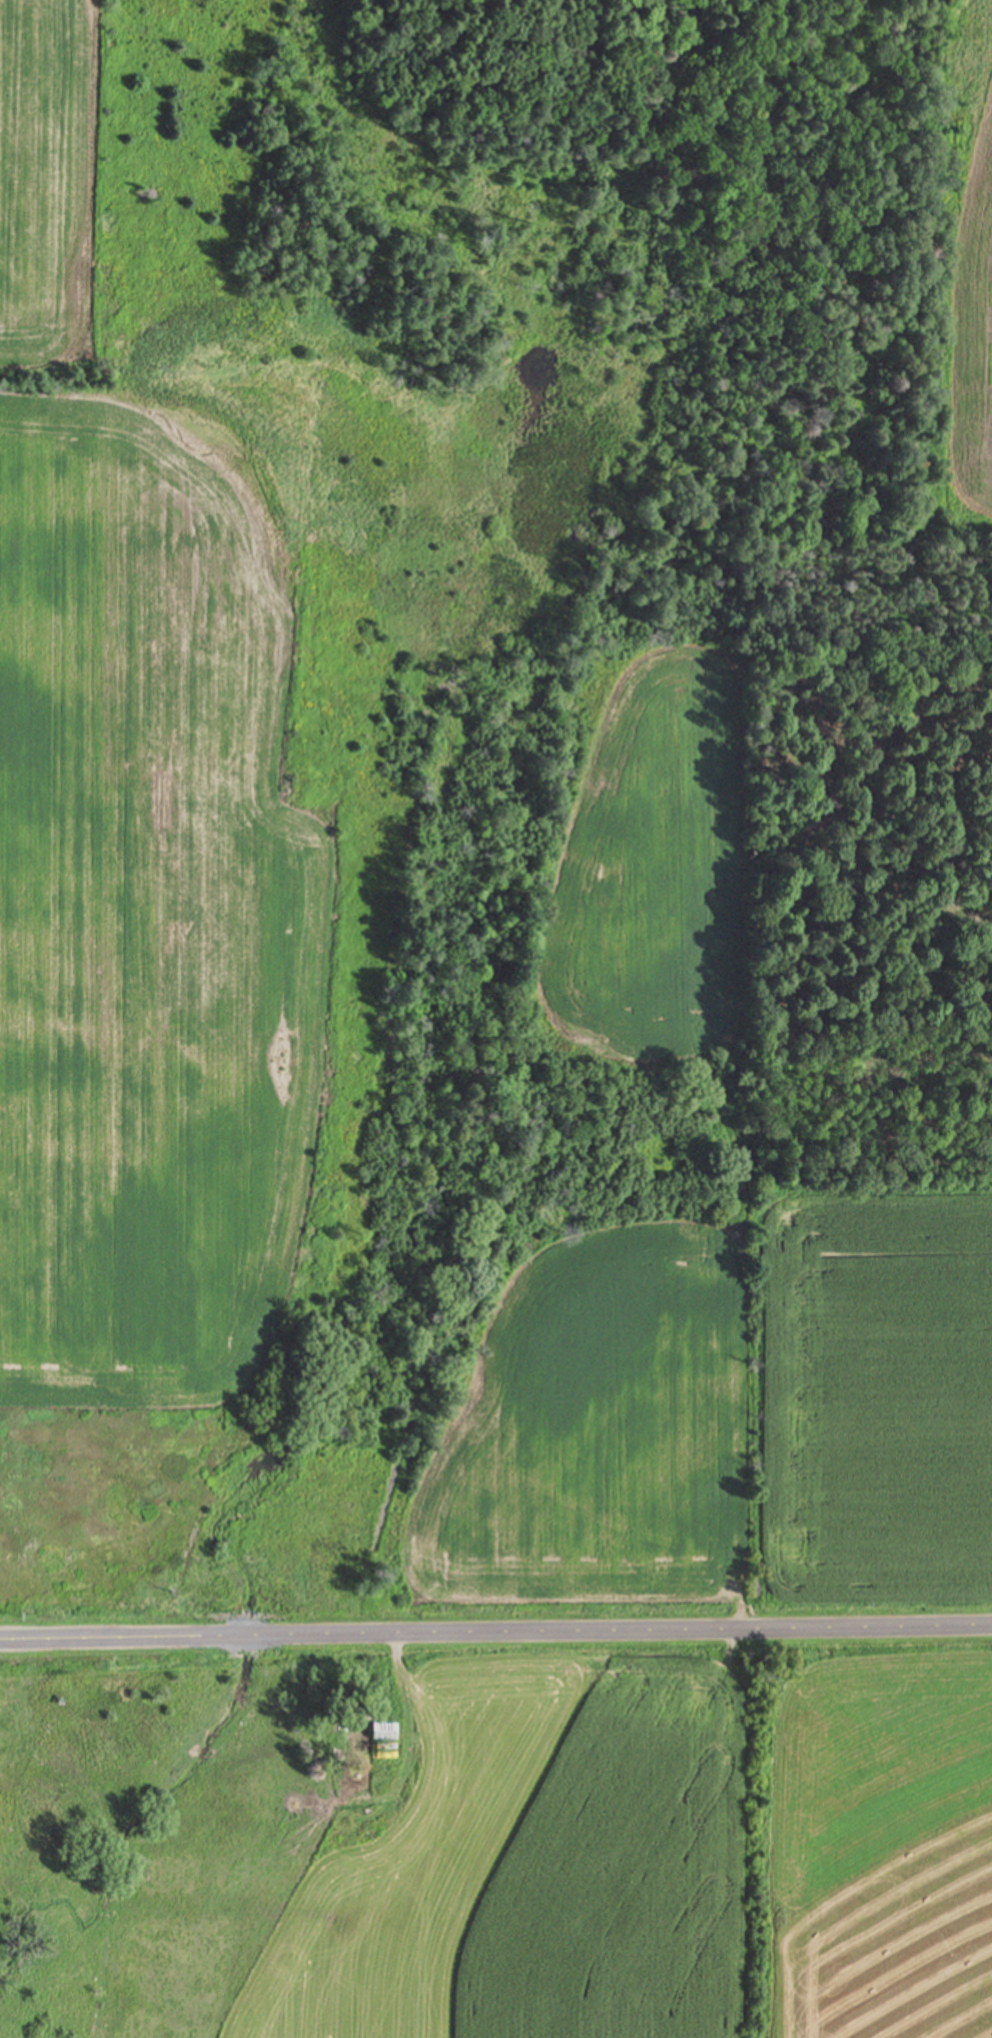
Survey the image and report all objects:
road: (496, 1631)

